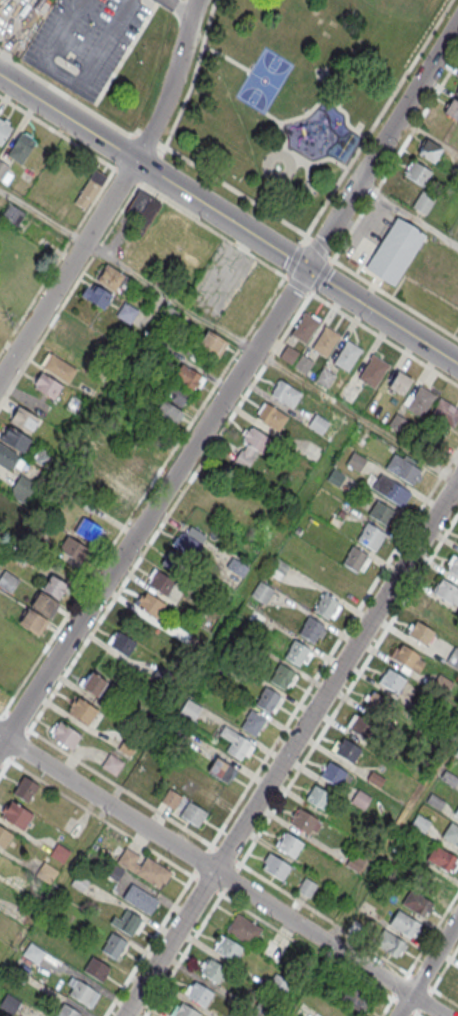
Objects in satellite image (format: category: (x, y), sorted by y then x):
road: (180, 6)
parking lot: (84, 41)
road: (228, 57)
road: (195, 74)
park: (264, 79)
road: (73, 84)
building: (457, 91)
park: (296, 92)
road: (329, 99)
road: (80, 104)
building: (452, 109)
building: (309, 128)
building: (4, 129)
road: (57, 133)
building: (21, 147)
road: (287, 148)
building: (429, 150)
road: (327, 158)
building: (5, 172)
building: (417, 172)
road: (272, 182)
building: (90, 188)
road: (334, 188)
road: (132, 192)
road: (112, 195)
building: (423, 202)
building: (142, 211)
road: (408, 214)
road: (42, 215)
building: (13, 216)
road: (228, 219)
road: (211, 230)
building: (394, 251)
traffic signals: (306, 268)
road: (355, 273)
building: (112, 279)
parking lot: (220, 281)
building: (96, 295)
building: (126, 313)
building: (170, 314)
building: (305, 327)
building: (77, 330)
road: (385, 339)
building: (325, 340)
building: (213, 343)
building: (289, 354)
building: (347, 355)
road: (271, 361)
building: (304, 364)
building: (58, 366)
building: (373, 371)
building: (325, 378)
building: (400, 382)
road: (231, 384)
building: (47, 385)
building: (285, 393)
building: (174, 398)
building: (420, 401)
building: (445, 414)
building: (272, 416)
building: (24, 419)
building: (398, 422)
building: (318, 424)
building: (15, 439)
building: (258, 440)
building: (8, 456)
building: (356, 461)
building: (403, 468)
building: (128, 474)
building: (335, 478)
road: (151, 484)
building: (22, 488)
building: (391, 489)
building: (0, 492)
building: (381, 512)
building: (88, 530)
building: (370, 535)
building: (188, 545)
building: (73, 549)
building: (354, 559)
building: (453, 564)
building: (8, 581)
building: (161, 582)
building: (55, 587)
building: (447, 592)
building: (261, 593)
building: (45, 604)
building: (150, 604)
building: (325, 606)
building: (33, 621)
building: (311, 629)
building: (421, 632)
building: (123, 643)
road: (334, 647)
building: (296, 652)
building: (407, 657)
building: (453, 658)
building: (282, 676)
building: (392, 680)
building: (94, 683)
building: (442, 686)
road: (349, 688)
building: (267, 699)
building: (83, 710)
building: (189, 711)
building: (253, 723)
building: (356, 723)
building: (66, 735)
building: (236, 744)
road: (290, 747)
building: (348, 749)
building: (456, 754)
building: (112, 763)
building: (222, 770)
building: (333, 773)
building: (449, 777)
building: (375, 778)
building: (25, 789)
building: (318, 797)
building: (360, 799)
building: (434, 801)
building: (184, 808)
building: (457, 812)
building: (16, 815)
building: (304, 820)
building: (420, 822)
building: (451, 834)
building: (4, 837)
building: (289, 845)
building: (59, 852)
road: (160, 856)
building: (441, 858)
building: (142, 867)
building: (275, 867)
road: (221, 875)
building: (428, 881)
building: (307, 888)
building: (140, 899)
building: (416, 903)
building: (128, 922)
building: (403, 924)
building: (244, 930)
road: (433, 933)
building: (389, 943)
building: (113, 945)
road: (148, 946)
building: (229, 949)
building: (274, 952)
building: (33, 953)
road: (318, 954)
road: (183, 955)
road: (427, 966)
building: (97, 968)
road: (445, 968)
building: (213, 971)
building: (279, 984)
building: (81, 991)
building: (200, 994)
building: (355, 998)
building: (12, 1004)
building: (304, 1009)
building: (67, 1011)
building: (185, 1011)
road: (415, 1015)

